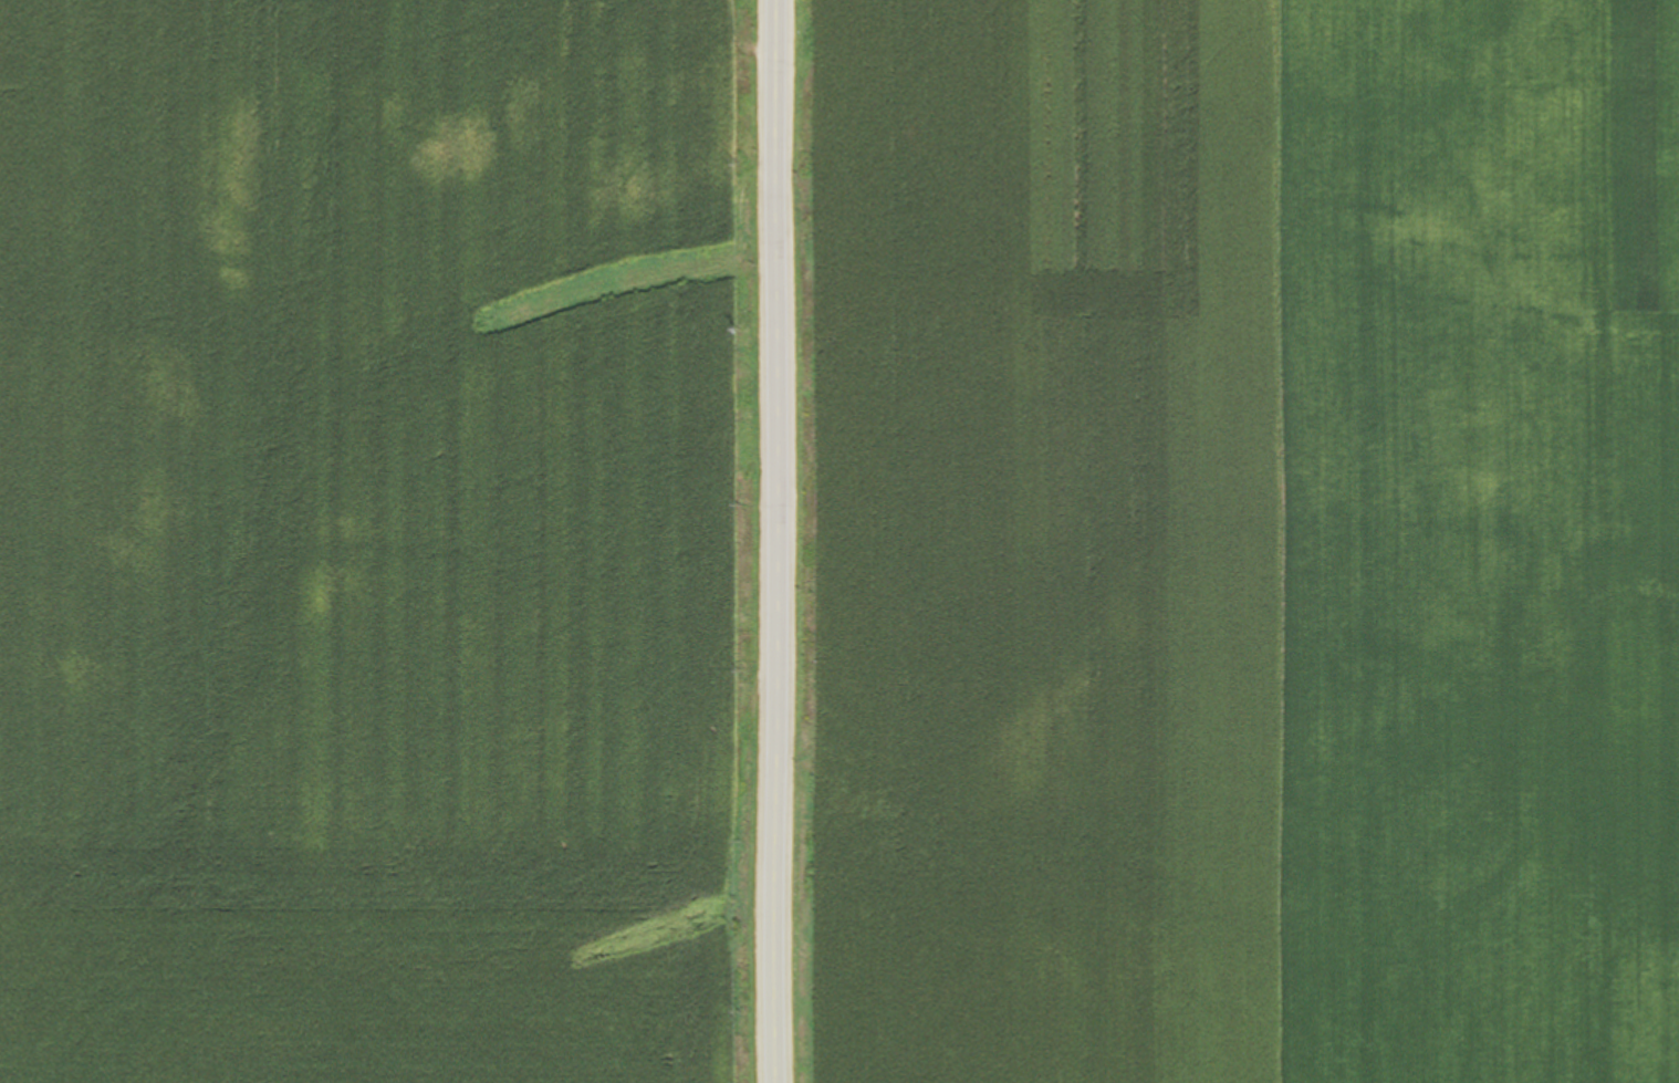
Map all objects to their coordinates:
road: (782, 541)

